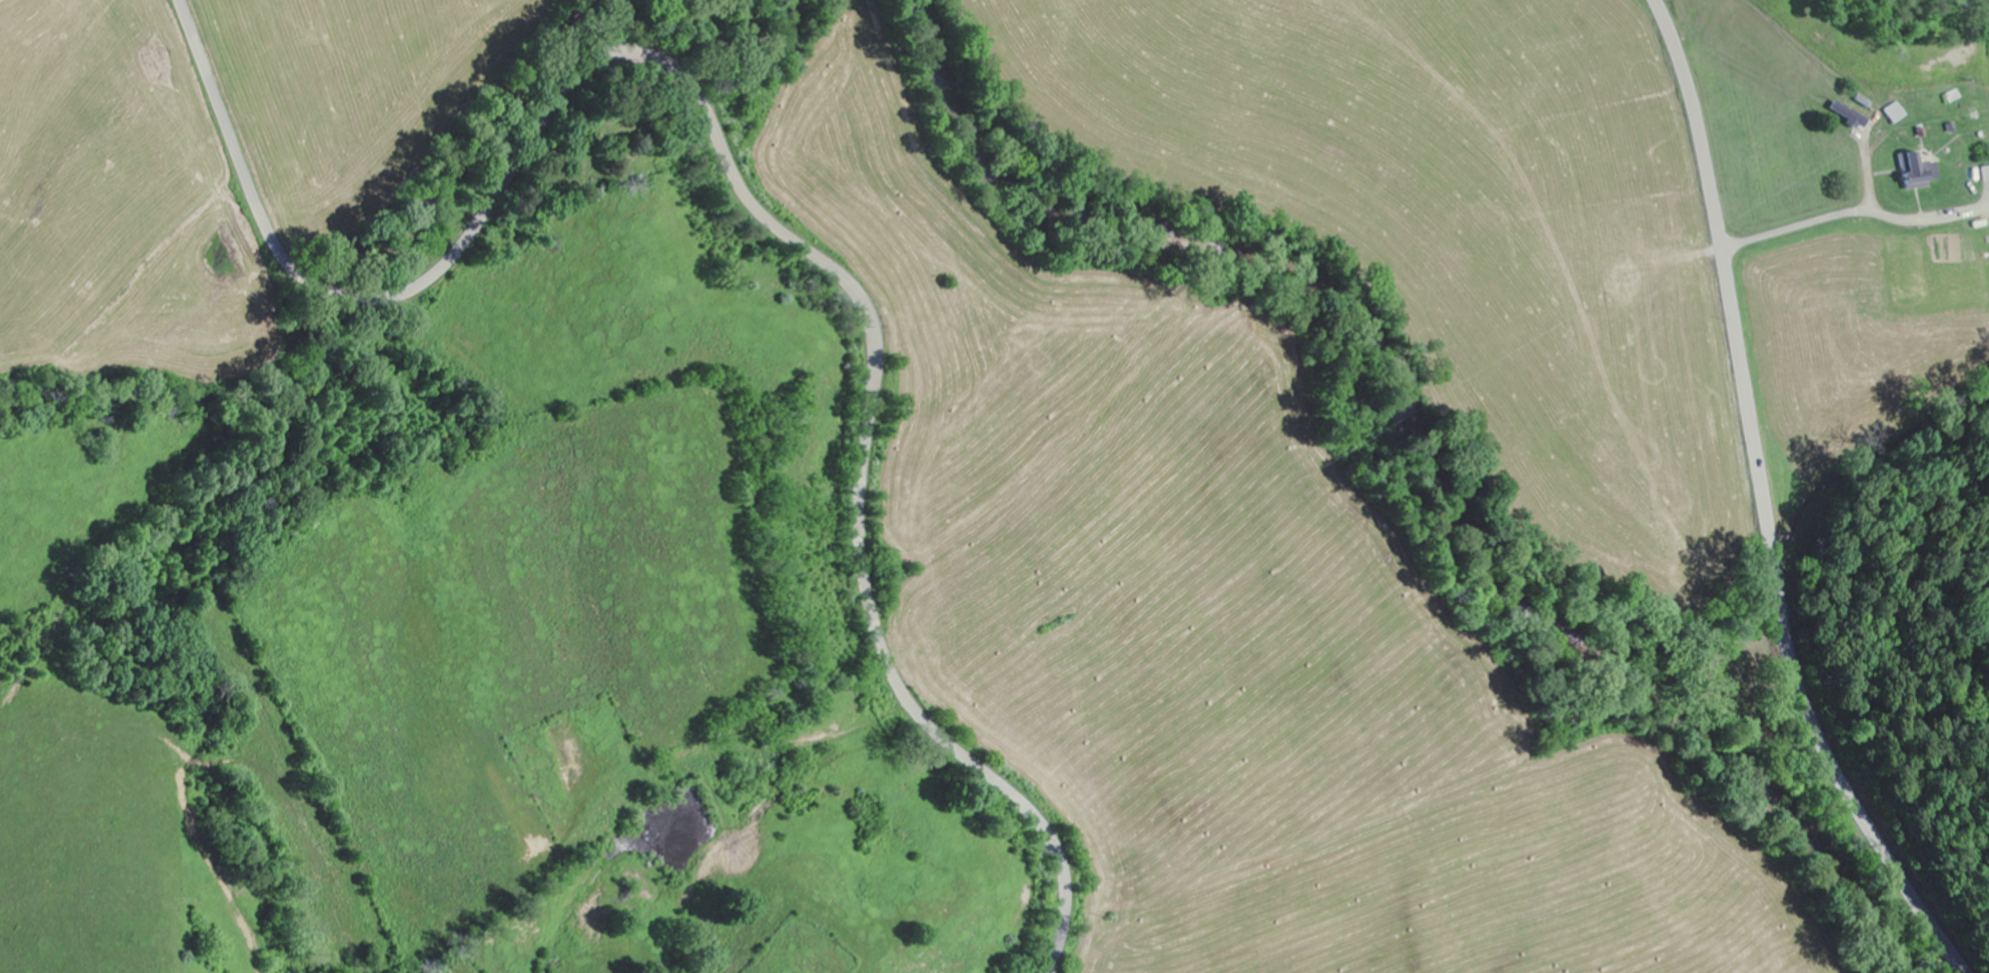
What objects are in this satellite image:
building: (1897, 114)
building: (1851, 117)
park: (616, 147)
building: (1913, 174)
road: (737, 180)
road: (1853, 214)
river: (1432, 446)
road: (1764, 504)

